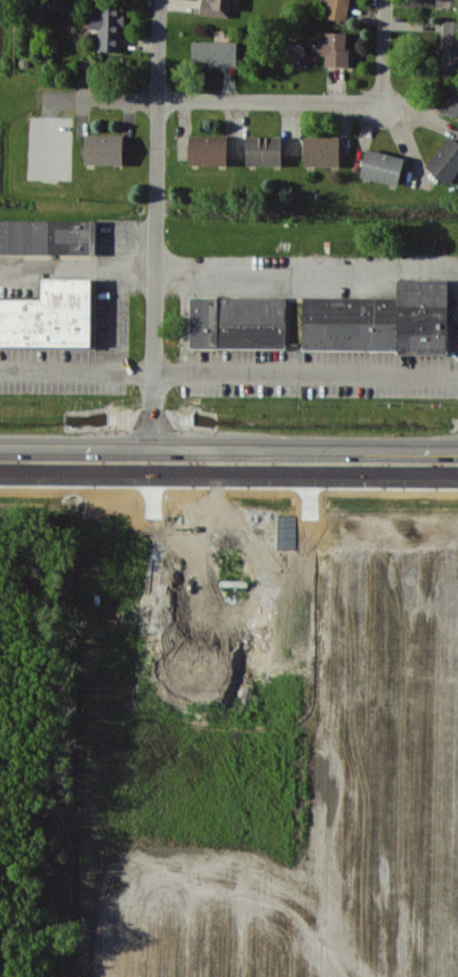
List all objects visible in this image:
building: (447, 3)
building: (216, 7)
building: (337, 9)
building: (107, 27)
building: (450, 46)
building: (335, 49)
road: (384, 51)
building: (215, 52)
road: (113, 99)
building: (454, 99)
road: (269, 100)
building: (104, 149)
building: (209, 149)
building: (265, 150)
building: (322, 151)
building: (446, 161)
building: (383, 167)
road: (158, 225)
building: (47, 237)
road: (79, 270)
road: (308, 271)
building: (50, 316)
road: (187, 320)
building: (238, 322)
building: (425, 324)
building: (387, 325)
road: (78, 369)
road: (307, 371)
road: (229, 452)

